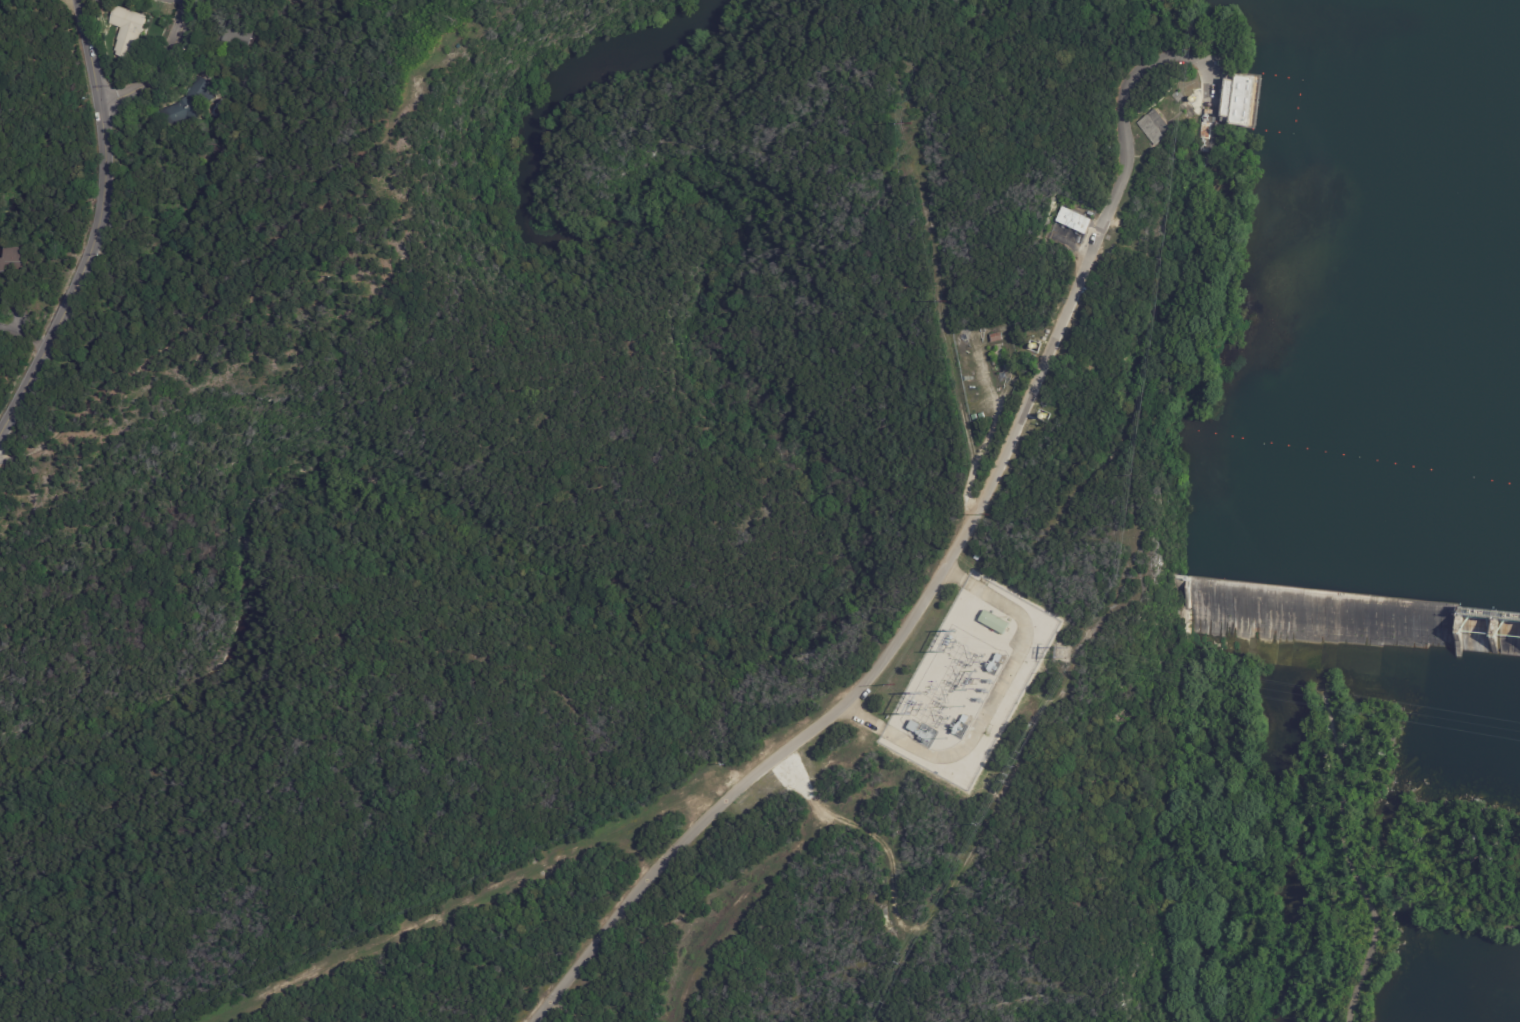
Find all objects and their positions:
building: (130, 31)
building: (245, 37)
road: (158, 64)
road: (93, 79)
building: (1241, 99)
building: (188, 106)
building: (1155, 128)
building: (1203, 131)
building: (1200, 150)
road: (104, 172)
building: (1074, 220)
building: (13, 259)
road: (58, 312)
building: (993, 338)
road: (957, 552)
building: (976, 556)
dam: (1338, 618)
building: (994, 622)
power tower: (1062, 656)
building: (998, 659)
building: (919, 679)
power substation: (968, 681)
road: (993, 705)
building: (965, 720)
building: (912, 726)
road: (1348, 856)
park: (1349, 863)
road: (478, 893)

